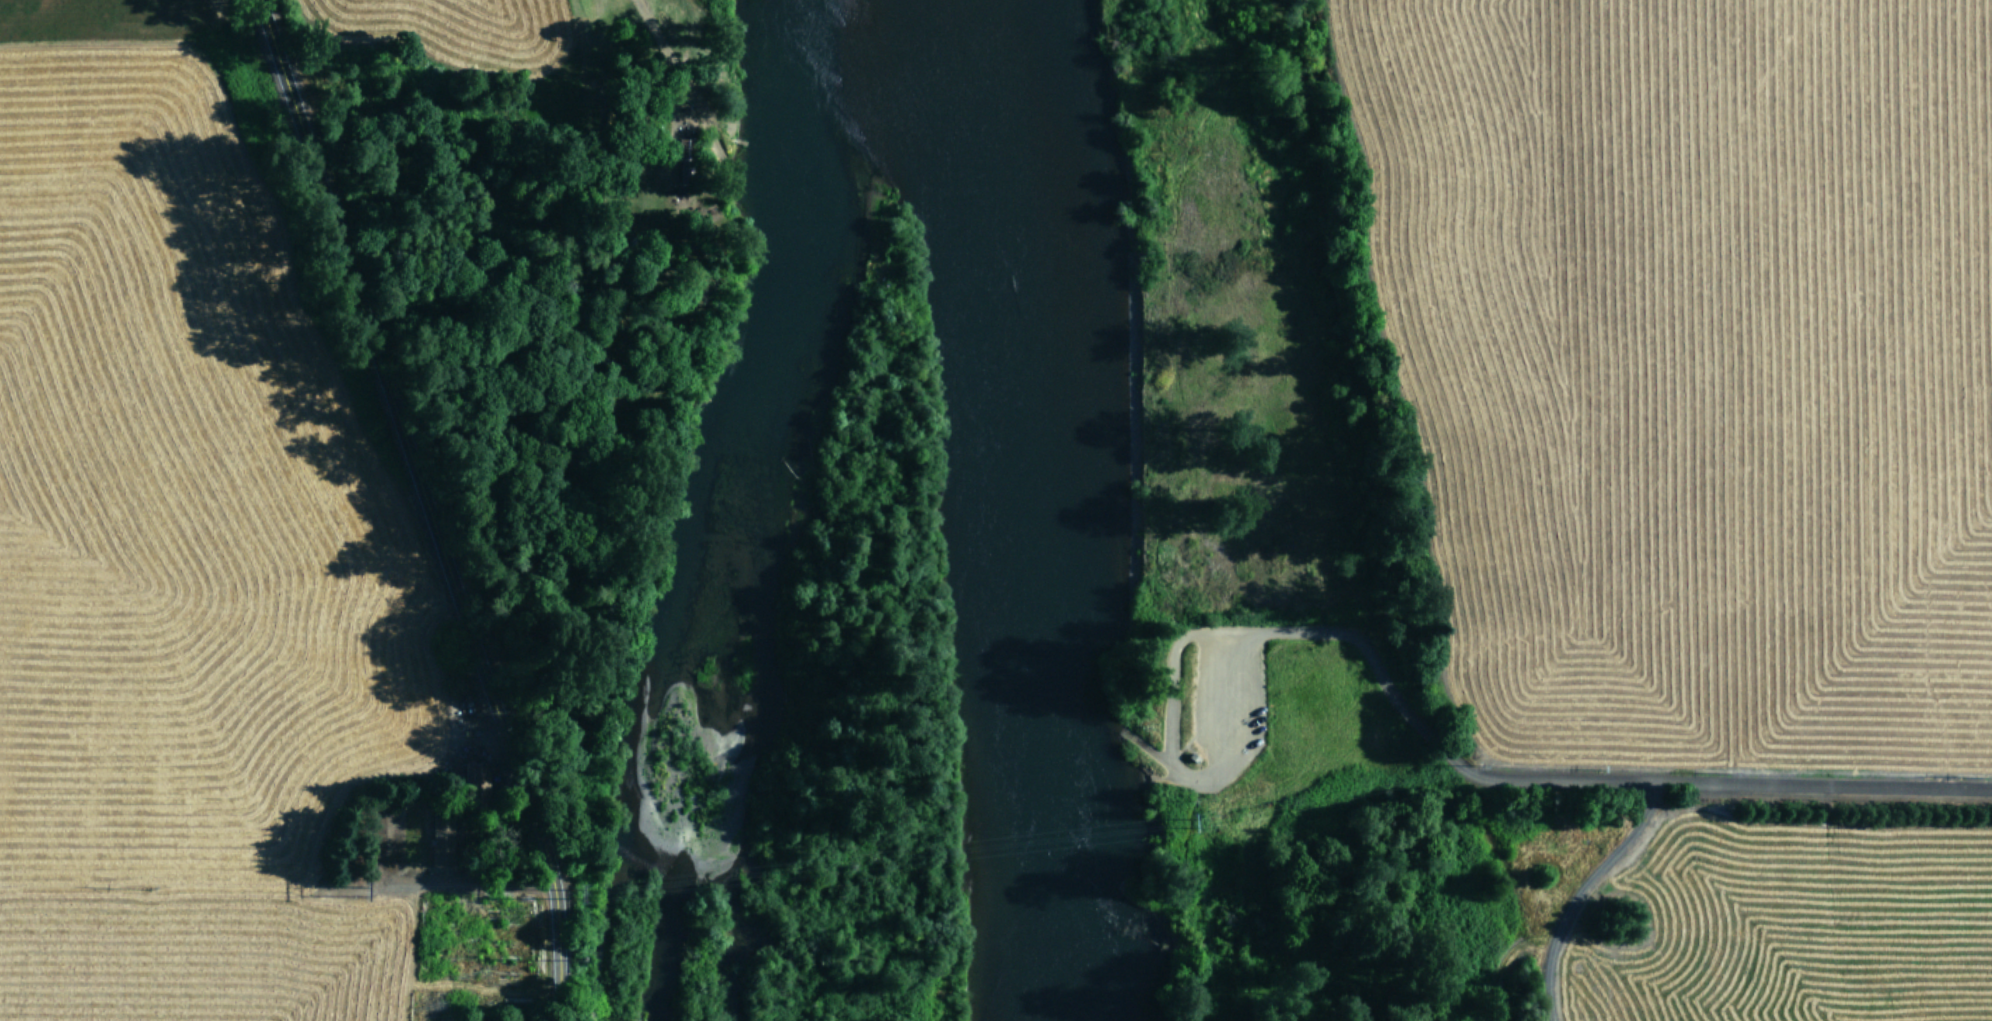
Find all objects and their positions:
crop: (467, 27)
building: (683, 167)
crop: (1703, 484)
road: (428, 507)
river: (1028, 509)
crop: (231, 607)
road: (1535, 768)
building: (443, 842)

